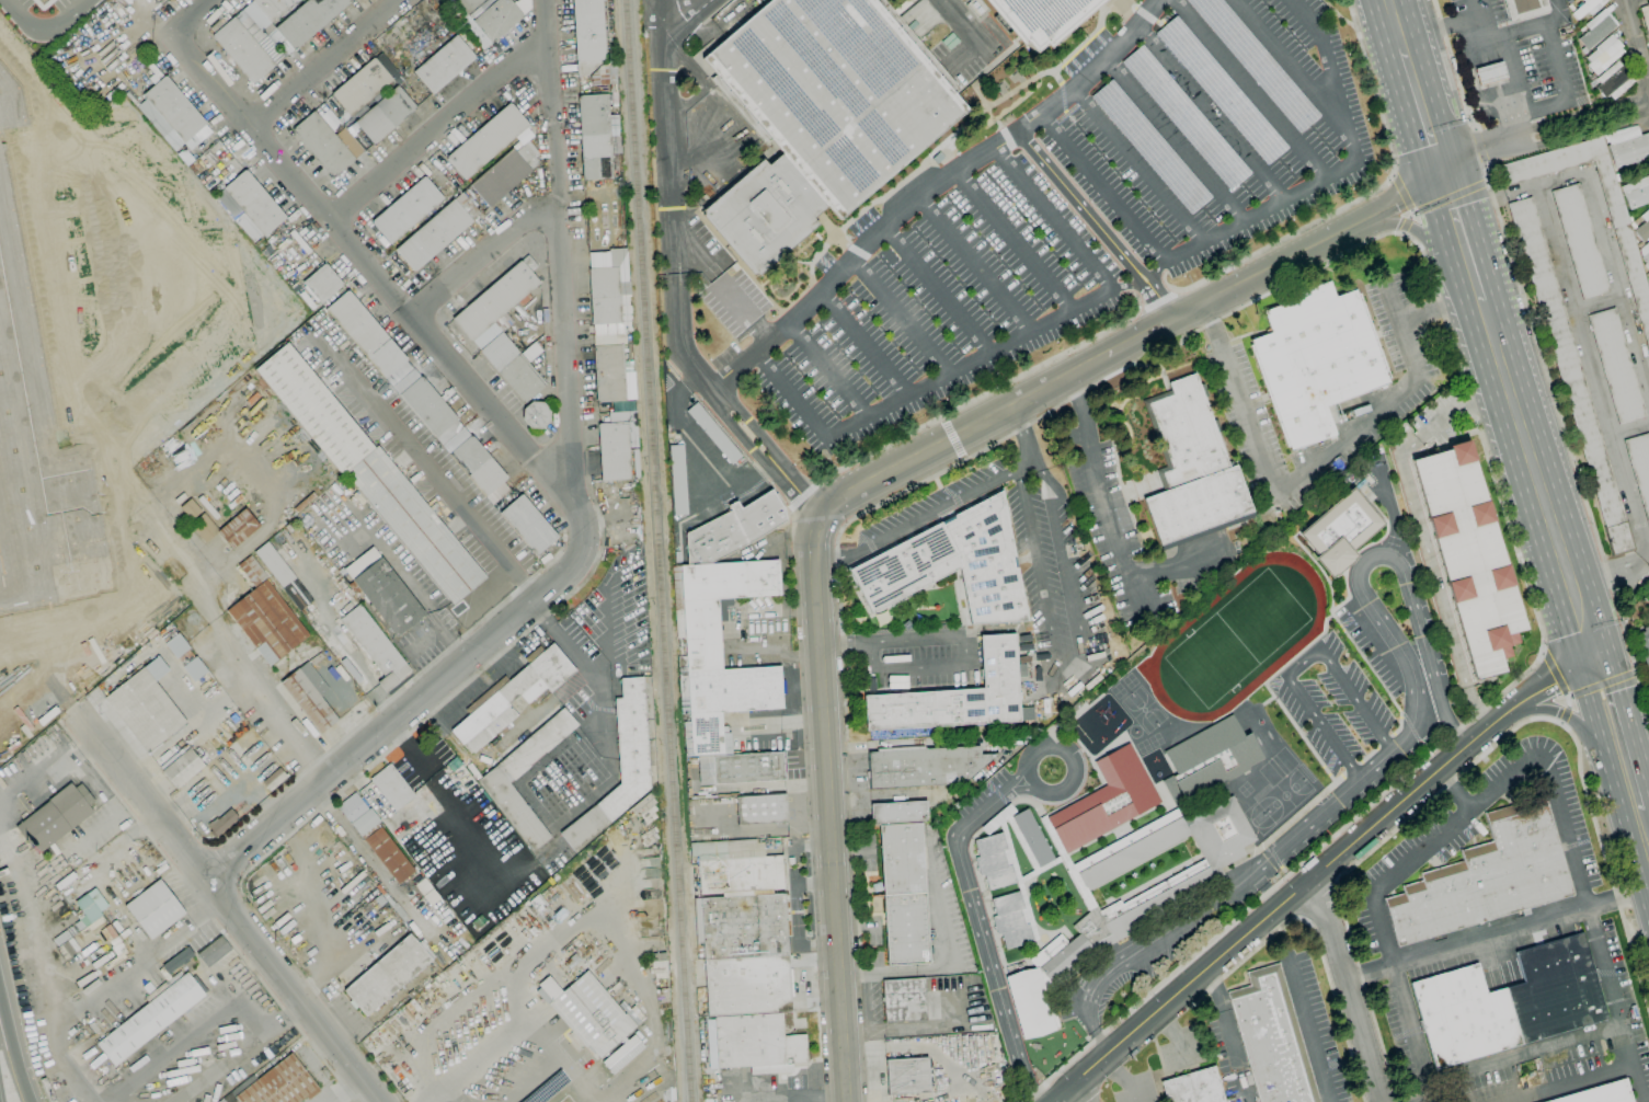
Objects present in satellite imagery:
building: (469, 5)
building: (273, 8)
building: (1588, 8)
building: (1525, 9)
parking lot: (1476, 14)
road: (194, 16)
building: (1040, 18)
building: (1646, 18)
building: (309, 20)
road: (1400, 20)
road: (959, 21)
building: (494, 22)
road: (1531, 25)
road: (1454, 26)
building: (1596, 30)
road: (46, 31)
parking lot: (955, 34)
road: (1485, 43)
building: (593, 44)
road: (974, 44)
road: (1636, 46)
building: (243, 50)
road: (677, 50)
road: (1327, 54)
building: (1605, 54)
building: (1258, 61)
road: (322, 62)
building: (445, 64)
road: (1454, 67)
parking lot: (1545, 71)
building: (1490, 72)
gas station: (1490, 72)
road: (1515, 72)
road: (1492, 73)
building: (1614, 81)
building: (362, 88)
road: (1249, 89)
building: (1221, 92)
road: (1562, 92)
road: (1427, 105)
road: (1503, 111)
road: (1211, 112)
building: (171, 113)
building: (386, 115)
building: (822, 115)
building: (1183, 118)
building: (331, 120)
road: (442, 128)
road: (1476, 129)
road: (1545, 131)
building: (597, 139)
road: (1173, 139)
building: (488, 141)
building: (323, 145)
building: (1150, 147)
building: (1628, 147)
road: (1480, 148)
road: (1138, 164)
road: (1487, 165)
traffic signals: (1447, 171)
building: (506, 173)
road: (1104, 186)
road: (931, 190)
building: (1637, 193)
road: (1402, 194)
road: (1451, 197)
building: (254, 203)
road: (1481, 204)
building: (408, 209)
parking lot: (1055, 214)
road: (1055, 218)
road: (1405, 222)
road: (1097, 223)
building: (1644, 227)
road: (1413, 230)
building: (438, 231)
road: (1466, 236)
road: (1606, 239)
building: (1625, 240)
building: (1580, 241)
road: (1016, 242)
road: (1362, 244)
road: (1312, 246)
road: (1180, 252)
road: (564, 253)
building: (1645, 253)
road: (490, 262)
road: (978, 264)
building: (1648, 274)
building: (323, 283)
road: (674, 284)
building: (609, 287)
road: (939, 288)
road: (391, 291)
road: (1179, 294)
road: (1395, 299)
road: (101, 300)
building: (497, 300)
road: (749, 312)
road: (901, 314)
road: (1141, 336)
building: (369, 337)
road: (863, 342)
building: (1317, 359)
building: (1617, 366)
building: (513, 367)
road: (827, 368)
road: (1591, 368)
building: (614, 374)
building: (1572, 376)
road: (791, 391)
building: (622, 405)
building: (428, 406)
building: (537, 415)
building: (39, 426)
building: (714, 433)
road: (962, 433)
road: (1566, 436)
road: (953, 438)
road: (1027, 446)
building: (615, 451)
road: (1326, 455)
building: (637, 463)
building: (478, 466)
building: (1640, 466)
building: (1192, 469)
road: (428, 471)
building: (371, 473)
road: (1537, 473)
building: (678, 480)
road: (1384, 491)
building: (208, 507)
building: (191, 509)
road: (1112, 513)
road: (914, 524)
building: (529, 526)
building: (227, 528)
building: (734, 529)
road: (1420, 529)
building: (1340, 531)
railway: (655, 551)
building: (1470, 556)
building: (952, 564)
building: (275, 565)
building: (253, 571)
building: (383, 592)
road: (1135, 597)
road: (1616, 598)
building: (714, 605)
building: (267, 622)
parking lot: (1430, 625)
road: (61, 634)
road: (740, 634)
track: (1308, 636)
park: (1236, 638)
road: (845, 641)
building: (175, 645)
road: (95, 646)
building: (376, 646)
traffic signals: (1589, 646)
building: (1645, 646)
road: (568, 647)
building: (11, 650)
road: (1356, 650)
parking lot: (1367, 652)
road: (1077, 659)
road: (962, 662)
road: (1302, 662)
building: (194, 668)
road: (1554, 674)
road: (245, 680)
park: (1129, 680)
road: (1601, 682)
park: (1116, 690)
road: (1270, 691)
building: (513, 693)
building: (310, 696)
building: (957, 697)
building: (725, 701)
parking lot: (1332, 703)
road: (438, 707)
park: (1142, 709)
road: (1560, 709)
building: (146, 710)
road: (1560, 713)
road: (397, 720)
road: (786, 721)
road: (1614, 731)
park: (1155, 739)
road: (1385, 741)
road: (1042, 745)
park: (1143, 746)
road: (1389, 751)
road: (1367, 755)
road: (322, 756)
building: (1207, 761)
road: (1473, 764)
park: (1276, 766)
building: (621, 767)
building: (927, 767)
building: (183, 768)
building: (741, 768)
road: (1350, 769)
building: (504, 773)
road: (1016, 776)
building: (392, 788)
road: (113, 789)
park: (1244, 789)
road: (1455, 789)
road: (1023, 790)
road: (1555, 791)
building: (469, 792)
parking lot: (982, 792)
park: (1284, 795)
road: (446, 799)
building: (431, 800)
road: (1027, 800)
building: (1107, 801)
road: (827, 807)
road: (1644, 807)
building: (761, 808)
parking lot: (1342, 811)
building: (900, 813)
building: (56, 817)
road: (997, 818)
park: (1258, 818)
building: (222, 822)
road: (1283, 825)
road: (1645, 828)
building: (376, 837)
building: (461, 838)
building: (1033, 838)
road: (1020, 841)
road: (1124, 841)
road: (1275, 860)
building: (994, 862)
road: (1066, 862)
building: (736, 866)
road: (1040, 869)
building: (1102, 871)
road: (1318, 872)
building: (1486, 877)
road: (1017, 879)
road: (217, 892)
building: (904, 894)
road: (982, 894)
building: (1088, 900)
building: (156, 909)
building: (1010, 921)
road: (628, 922)
building: (743, 926)
road: (1496, 935)
road: (982, 938)
road: (1316, 939)
building: (214, 951)
building: (1060, 955)
road: (1027, 958)
building: (387, 975)
building: (746, 985)
road: (1347, 989)
road: (105, 990)
road: (268, 990)
building: (905, 1000)
building: (1030, 1002)
building: (1509, 1002)
road: (436, 1014)
building: (592, 1015)
building: (151, 1017)
road: (1307, 1029)
road: (1413, 1033)
road: (1229, 1034)
building: (1272, 1038)
building: (754, 1044)
road: (13, 1046)
road: (238, 1051)
building: (621, 1054)
road: (1526, 1055)
road: (470, 1059)
road: (556, 1059)
building: (908, 1076)
road: (534, 1082)
road: (1574, 1083)
building: (278, 1084)
building: (1194, 1087)
road: (343, 1088)
road: (1083, 1090)
building: (1602, 1094)
road: (433, 1098)

